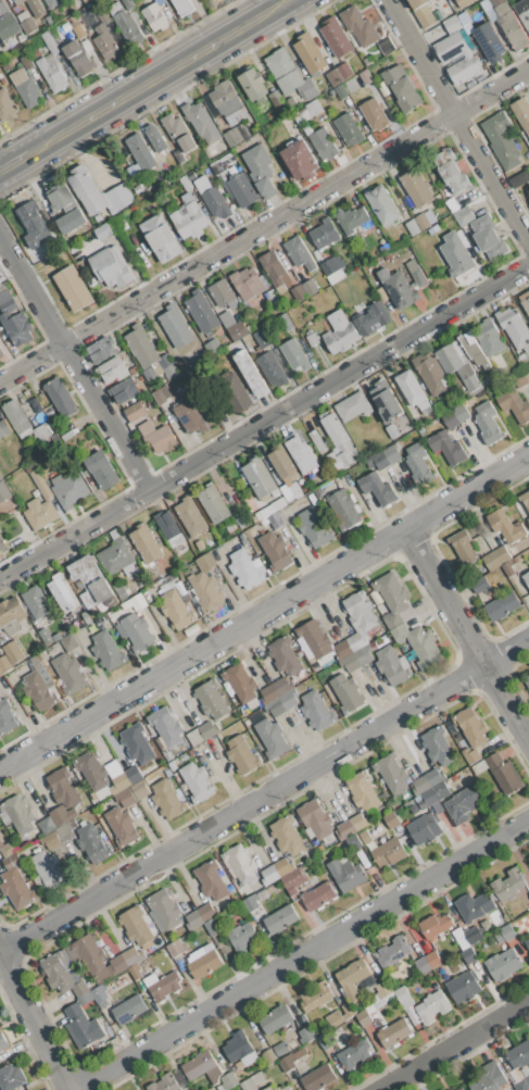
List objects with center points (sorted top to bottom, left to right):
building: (207, 0)
building: (211, 0)
building: (87, 1)
building: (54, 2)
building: (417, 2)
building: (463, 3)
building: (128, 4)
building: (32, 7)
building: (182, 7)
building: (3, 8)
building: (522, 12)
building: (437, 15)
building: (103, 16)
building: (424, 16)
building: (154, 17)
building: (26, 22)
building: (126, 23)
building: (452, 24)
building: (8, 26)
building: (360, 26)
building: (511, 26)
building: (77, 27)
building: (436, 30)
building: (112, 32)
building: (336, 37)
building: (50, 41)
building: (489, 42)
building: (104, 43)
building: (87, 45)
building: (388, 46)
building: (310, 54)
building: (78, 59)
building: (467, 61)
building: (27, 62)
building: (285, 71)
building: (344, 71)
building: (52, 73)
road: (158, 77)
building: (333, 77)
building: (366, 77)
building: (252, 86)
building: (25, 87)
building: (401, 88)
building: (308, 89)
building: (340, 91)
building: (275, 97)
building: (291, 101)
building: (226, 103)
building: (5, 107)
building: (308, 111)
building: (521, 113)
building: (374, 114)
road: (457, 121)
building: (202, 124)
building: (349, 128)
building: (179, 133)
building: (232, 137)
building: (155, 138)
building: (501, 141)
building: (323, 145)
building: (141, 152)
building: (178, 155)
building: (300, 160)
road: (13, 162)
building: (222, 163)
building: (260, 170)
building: (450, 172)
building: (190, 176)
building: (186, 183)
building: (416, 188)
building: (528, 189)
building: (242, 190)
building: (98, 193)
building: (216, 202)
building: (450, 202)
building: (383, 205)
road: (297, 206)
building: (65, 208)
building: (464, 215)
building: (190, 216)
building: (352, 220)
building: (425, 220)
building: (33, 224)
building: (413, 227)
building: (105, 230)
building: (324, 234)
building: (161, 237)
building: (488, 237)
building: (385, 248)
building: (300, 253)
building: (402, 254)
building: (388, 256)
building: (456, 258)
building: (332, 265)
building: (111, 266)
building: (0, 270)
building: (275, 271)
building: (0, 277)
building: (248, 283)
building: (403, 284)
building: (308, 287)
building: (74, 288)
building: (222, 292)
building: (298, 292)
building: (273, 299)
building: (525, 301)
building: (201, 314)
building: (13, 317)
building: (371, 320)
building: (227, 321)
building: (286, 322)
building: (176, 326)
building: (515, 329)
building: (340, 333)
building: (488, 337)
building: (262, 338)
building: (312, 339)
building: (141, 347)
building: (212, 347)
building: (473, 349)
building: (101, 350)
building: (1, 353)
building: (293, 354)
building: (521, 356)
road: (74, 361)
road: (32, 363)
building: (457, 365)
building: (272, 368)
building: (133, 369)
building: (112, 371)
building: (172, 373)
building: (430, 373)
building: (251, 374)
building: (521, 375)
building: (124, 390)
building: (234, 392)
building: (413, 392)
building: (463, 394)
building: (159, 396)
building: (60, 398)
building: (456, 400)
building: (386, 401)
building: (514, 404)
building: (353, 406)
building: (438, 408)
building: (135, 412)
building: (455, 415)
building: (190, 416)
building: (17, 417)
road: (264, 422)
building: (488, 424)
building: (3, 428)
building: (146, 428)
building: (42, 431)
building: (392, 431)
building: (162, 440)
building: (339, 440)
building: (317, 441)
building: (448, 448)
building: (301, 454)
building: (391, 454)
building: (380, 461)
building: (370, 463)
building: (284, 464)
building: (417, 464)
building: (101, 469)
building: (261, 479)
building: (41, 485)
building: (378, 488)
building: (68, 489)
building: (3, 491)
building: (287, 493)
building: (525, 500)
building: (213, 503)
building: (278, 504)
building: (261, 509)
building: (343, 509)
building: (39, 513)
building: (191, 516)
building: (239, 518)
building: (256, 518)
building: (276, 519)
building: (528, 521)
building: (264, 522)
building: (313, 525)
building: (505, 525)
building: (169, 529)
building: (146, 543)
building: (2, 544)
building: (463, 547)
building: (275, 551)
building: (496, 557)
building: (117, 559)
building: (205, 562)
building: (507, 567)
building: (244, 568)
building: (526, 578)
building: (91, 582)
building: (481, 585)
building: (391, 590)
building: (181, 591)
building: (206, 591)
building: (62, 593)
building: (122, 593)
building: (192, 596)
building: (36, 602)
building: (502, 605)
building: (176, 610)
building: (360, 610)
building: (11, 615)
road: (264, 615)
building: (391, 619)
building: (137, 631)
building: (399, 631)
building: (45, 636)
road: (466, 636)
building: (58, 637)
building: (314, 638)
building: (72, 641)
building: (350, 646)
building: (424, 647)
building: (108, 651)
building: (13, 652)
building: (287, 655)
building: (356, 660)
building: (4, 665)
building: (392, 665)
building: (70, 673)
building: (527, 681)
building: (241, 685)
building: (38, 686)
building: (275, 690)
building: (347, 692)
building: (211, 699)
building: (281, 702)
building: (316, 711)
building: (7, 717)
building: (165, 726)
building: (471, 726)
building: (207, 730)
building: (194, 737)
building: (270, 737)
building: (136, 743)
building: (438, 747)
building: (166, 754)
building: (242, 755)
building: (473, 756)
building: (493, 760)
building: (172, 765)
building: (479, 766)
building: (93, 770)
building: (391, 773)
building: (434, 777)
building: (508, 778)
building: (125, 779)
building: (197, 781)
building: (420, 785)
building: (63, 788)
building: (140, 788)
building: (440, 790)
building: (363, 792)
building: (125, 798)
road: (264, 798)
building: (167, 799)
building: (426, 799)
building: (463, 804)
building: (414, 810)
building: (18, 815)
building: (58, 816)
building: (392, 819)
building: (316, 820)
building: (358, 823)
building: (47, 825)
building: (122, 827)
building: (424, 827)
building: (65, 830)
building: (344, 830)
building: (286, 836)
building: (365, 838)
building: (50, 840)
building: (92, 843)
building: (1, 844)
building: (9, 849)
building: (388, 852)
building: (528, 859)
building: (13, 860)
building: (239, 864)
building: (282, 866)
building: (47, 870)
building: (345, 874)
building: (268, 875)
building: (293, 878)
building: (210, 881)
building: (507, 885)
building: (16, 889)
building: (318, 895)
building: (251, 902)
building: (474, 906)
building: (164, 911)
building: (207, 912)
building: (281, 918)
building: (193, 920)
building: (214, 925)
building: (434, 925)
building: (135, 927)
building: (504, 934)
building: (473, 935)
building: (242, 937)
building: (459, 938)
building: (527, 943)
building: (177, 947)
building: (88, 950)
building: (393, 952)
building: (468, 954)
road: (303, 955)
building: (131, 956)
building: (432, 959)
building: (117, 964)
building: (205, 964)
building: (421, 965)
building: (503, 965)
building: (56, 970)
building: (135, 970)
building: (352, 978)
building: (162, 986)
building: (463, 987)
building: (383, 989)
building: (81, 993)
building: (98, 994)
building: (404, 998)
building: (307, 1002)
building: (432, 1006)
building: (128, 1010)
building: (347, 1011)
building: (335, 1017)
building: (276, 1018)
building: (364, 1018)
road: (35, 1023)
building: (81, 1027)
building: (394, 1033)
building: (3, 1041)
building: (324, 1041)
road: (454, 1045)
building: (239, 1050)
building: (354, 1054)
building: (519, 1054)
building: (268, 1056)
building: (286, 1063)
building: (200, 1065)
building: (11, 1077)
building: (317, 1078)
building: (490, 1078)
building: (228, 1080)
building: (168, 1081)
building: (252, 1081)
building: (520, 1085)
building: (267, 1088)
building: (282, 1088)
building: (451, 1089)
building: (458, 1089)

